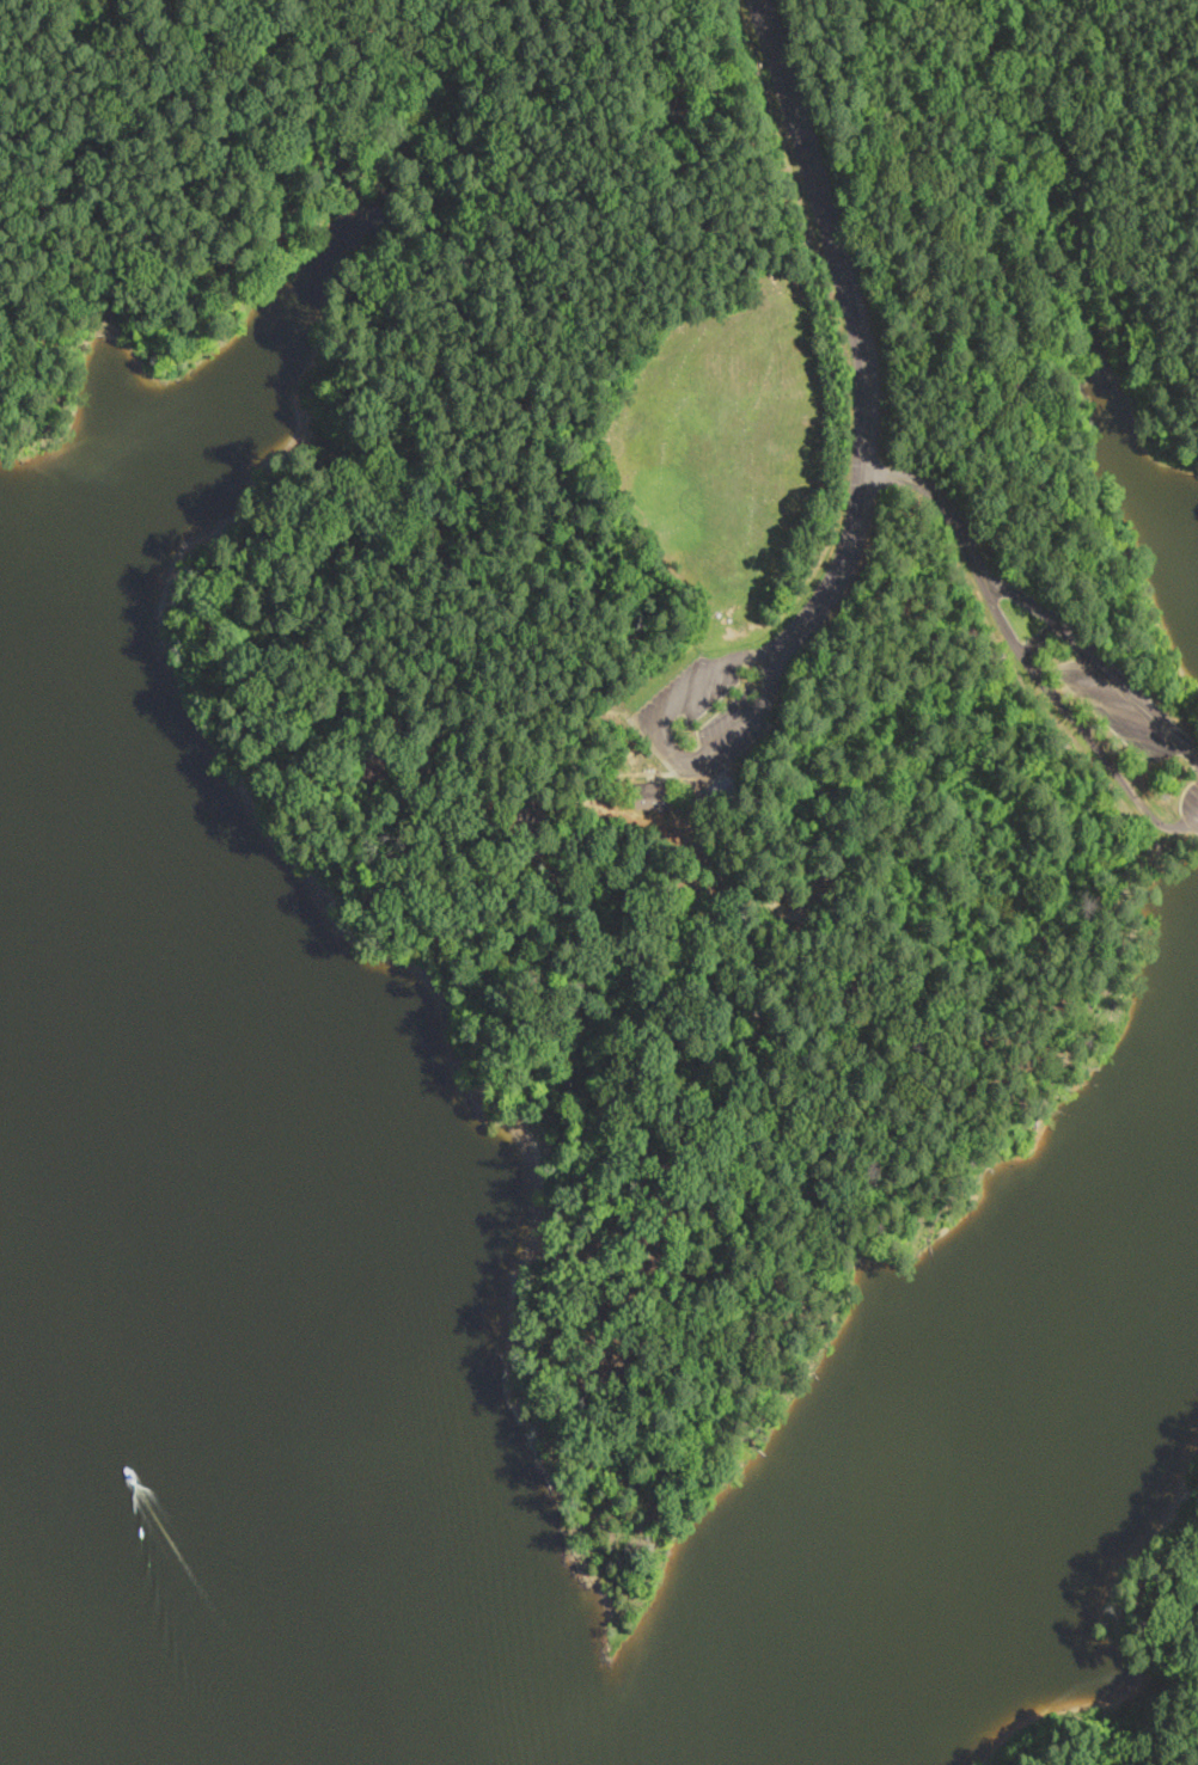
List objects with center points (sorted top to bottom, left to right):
road: (857, 341)
road: (947, 508)
park: (667, 608)
road: (1001, 618)
parking lot: (1125, 707)
parking lot: (707, 717)
building: (653, 787)
river: (145, 1493)

